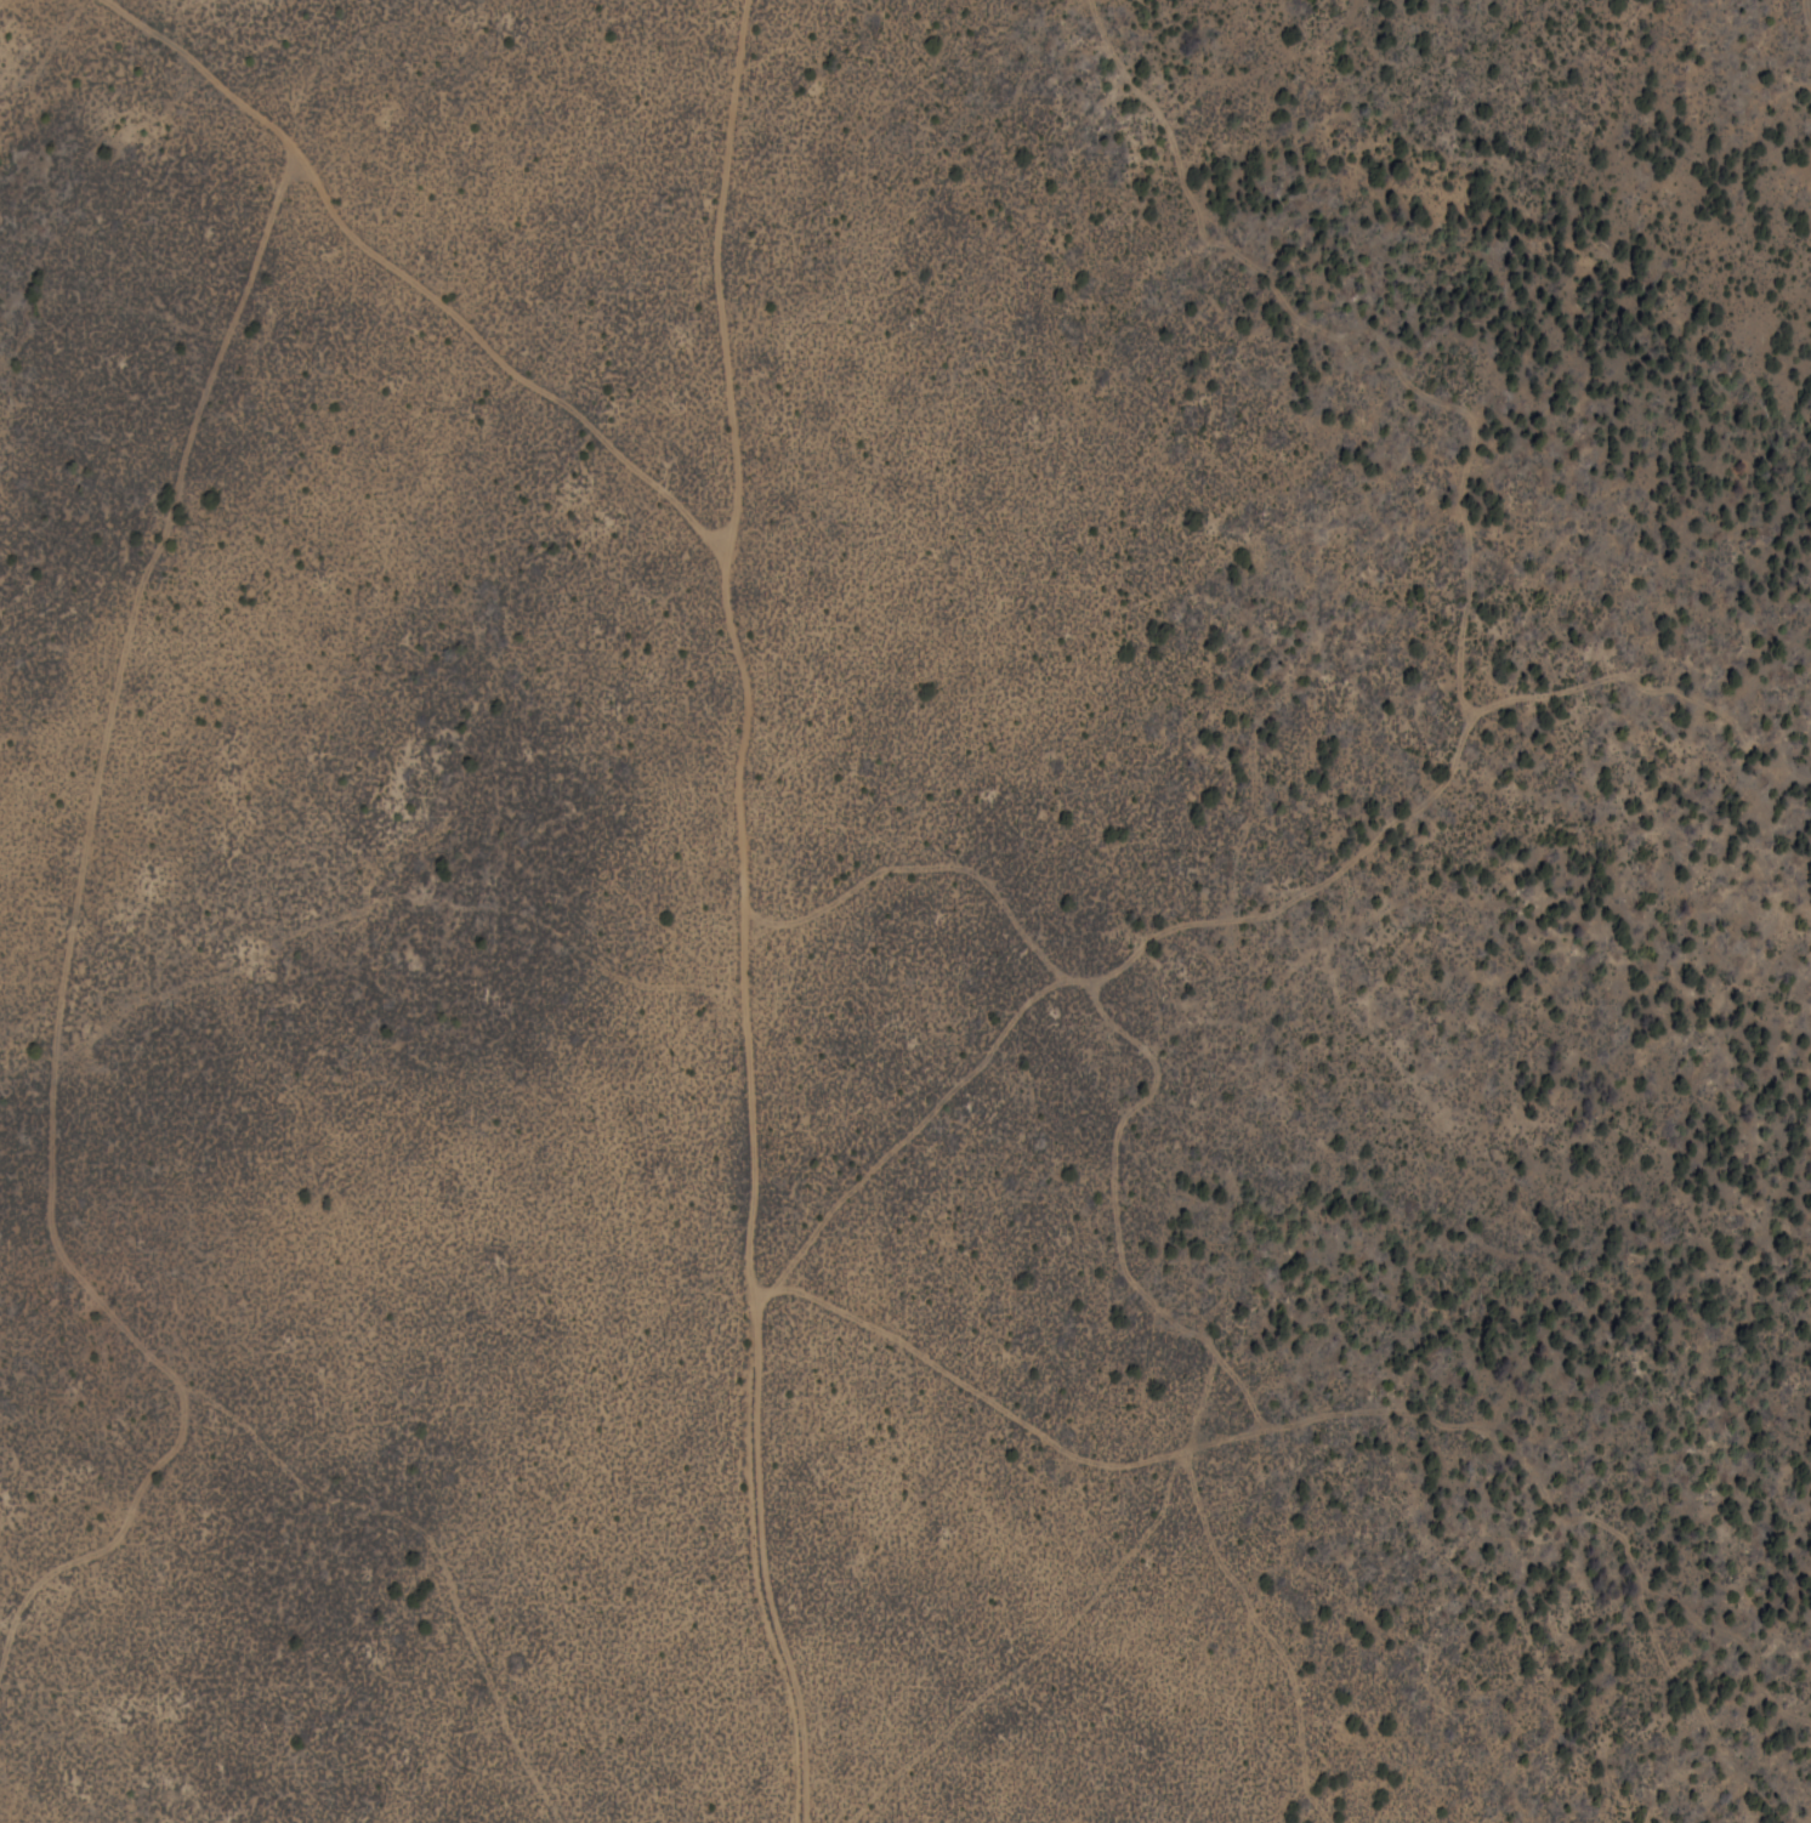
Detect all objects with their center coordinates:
road: (793, 251)
road: (763, 765)

